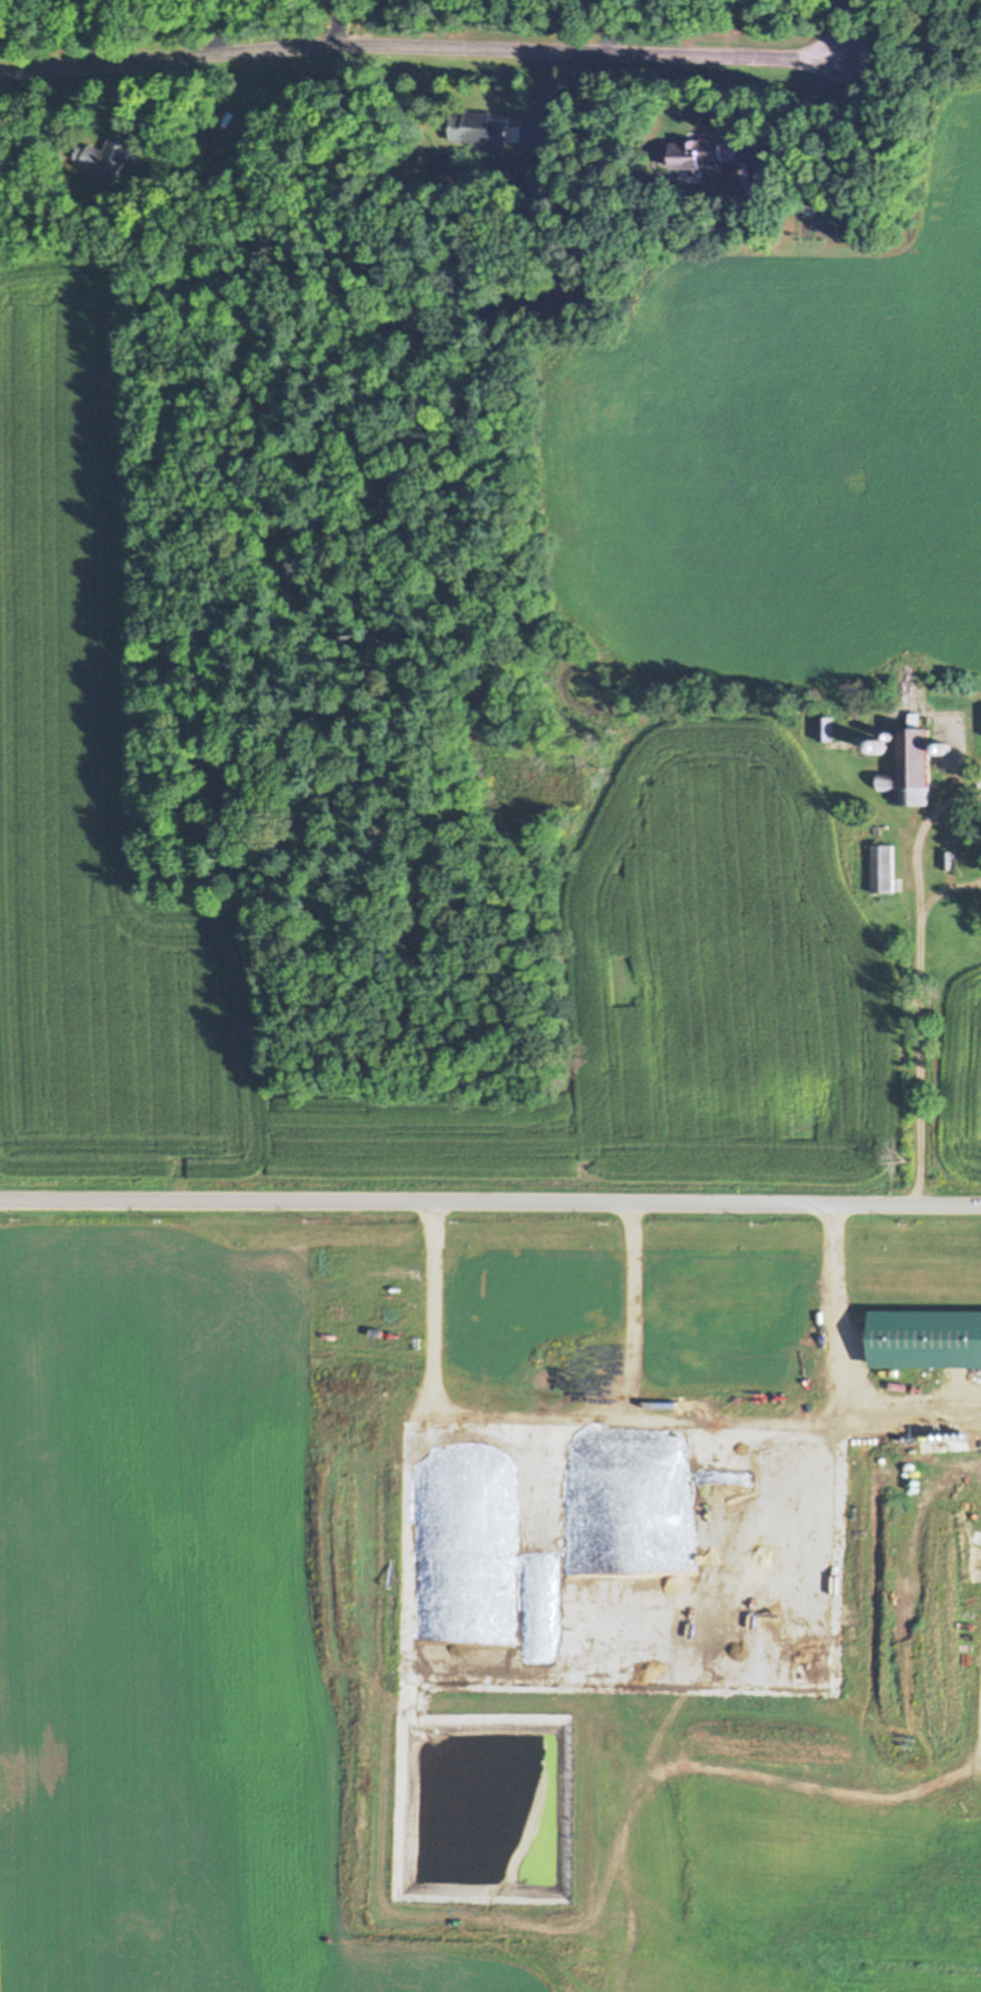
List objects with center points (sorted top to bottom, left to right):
road: (326, 22)
road: (217, 23)
road: (607, 25)
road: (842, 28)
road: (420, 45)
road: (801, 115)
building: (477, 128)
building: (694, 154)
building: (105, 157)
building: (912, 769)
building: (884, 868)
road: (913, 975)
road: (490, 1201)
road: (834, 1366)
road: (527, 1415)
road: (738, 1428)

